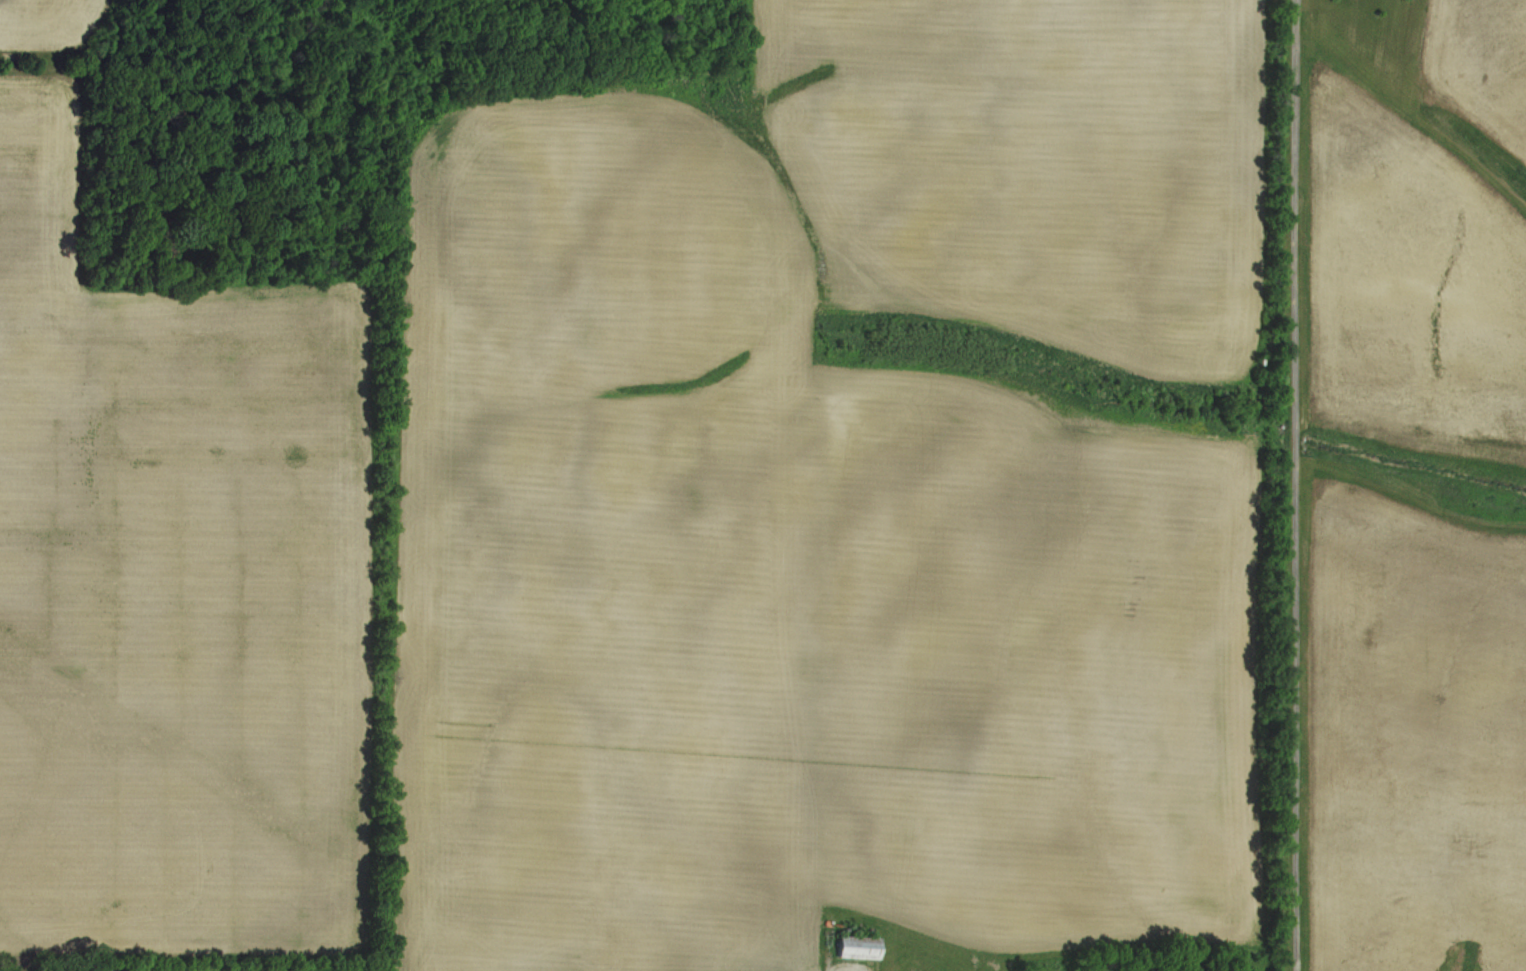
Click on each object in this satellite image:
road: (1290, 485)
building: (863, 947)

